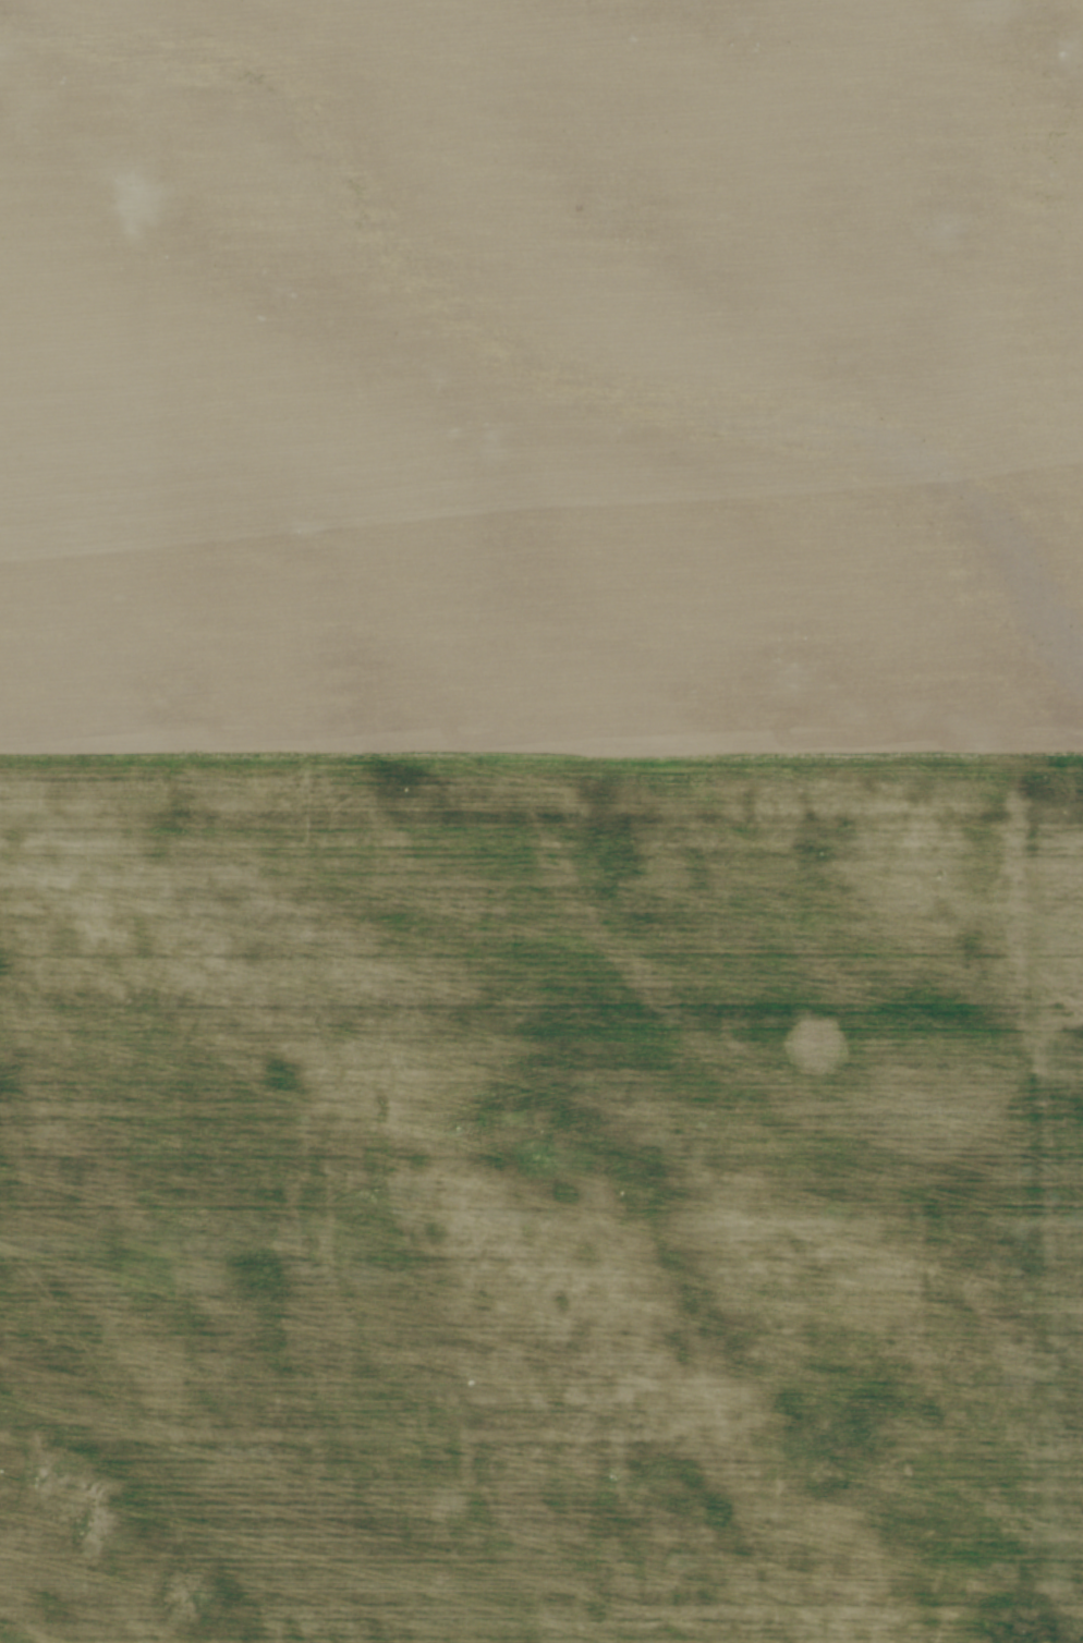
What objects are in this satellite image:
crop: (541, 821)

